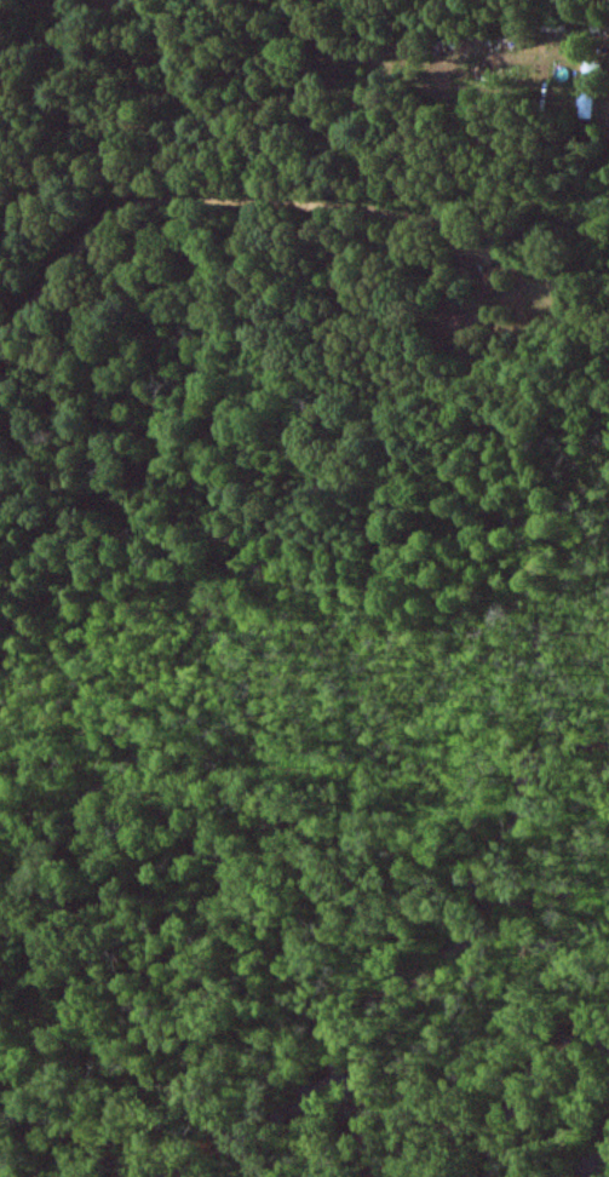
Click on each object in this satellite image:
building: (588, 91)
road: (276, 200)
building: (486, 282)
building: (459, 325)

